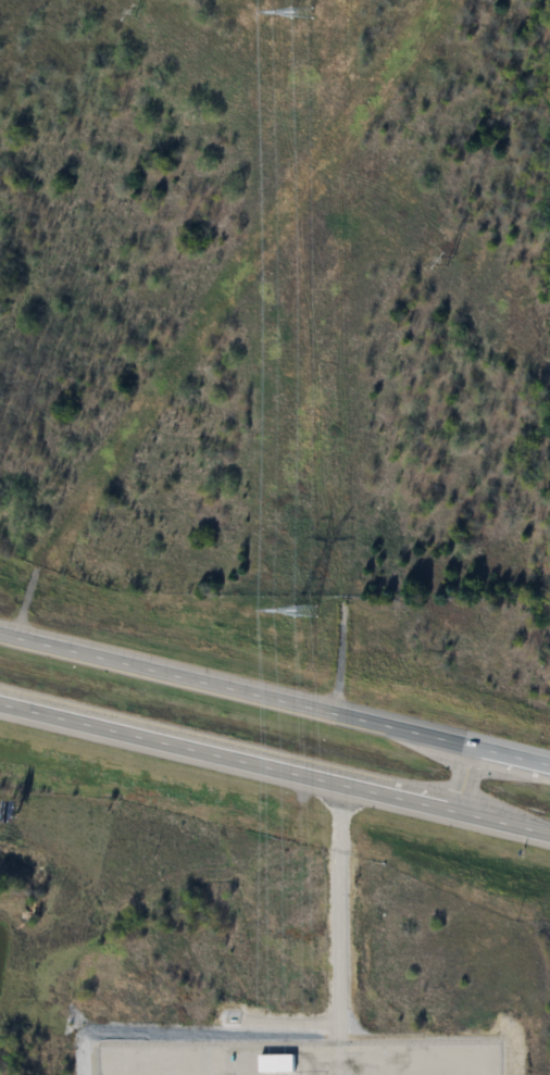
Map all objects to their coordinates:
power tower: (130, 14)
power tower: (297, 14)
power tower: (437, 260)
power tower: (293, 617)
road: (274, 695)
road: (274, 766)
road: (451, 773)
power substation: (301, 1060)
building: (274, 1064)

